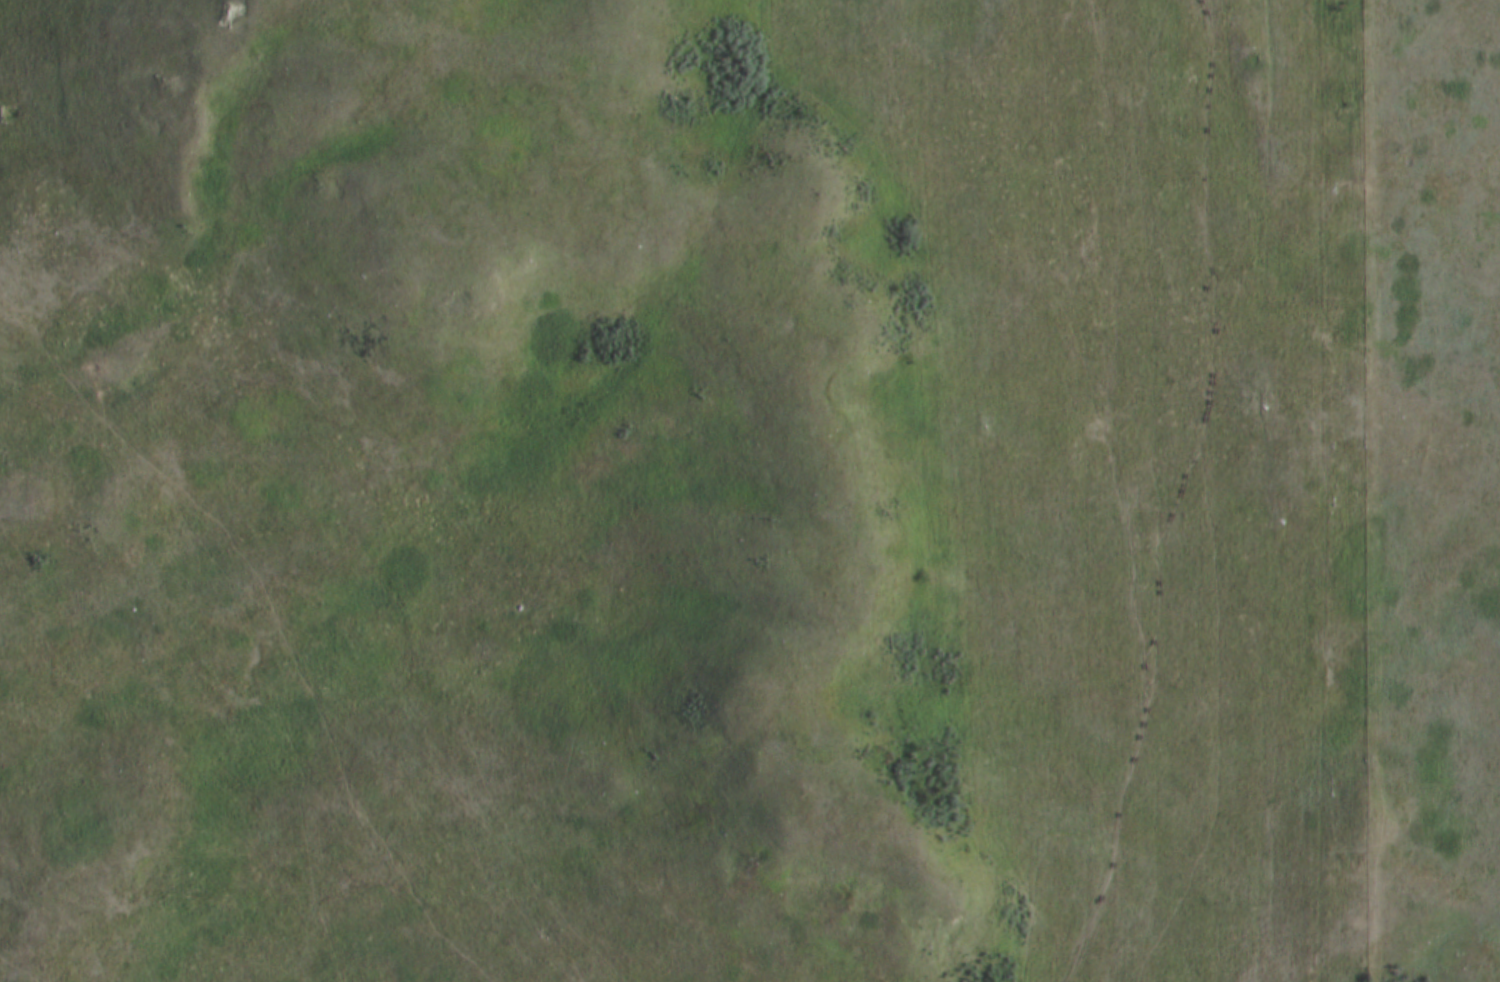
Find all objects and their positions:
road: (1372, 491)

